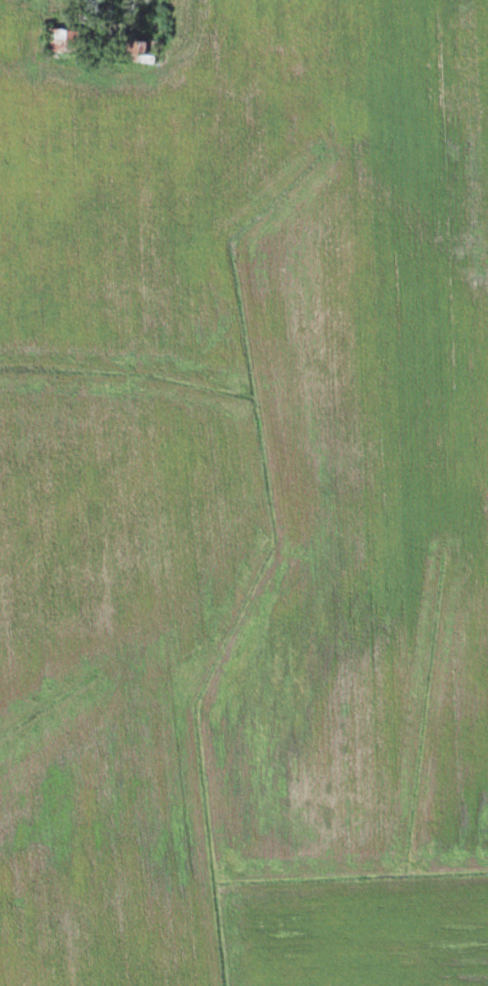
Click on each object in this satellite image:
building: (59, 37)

